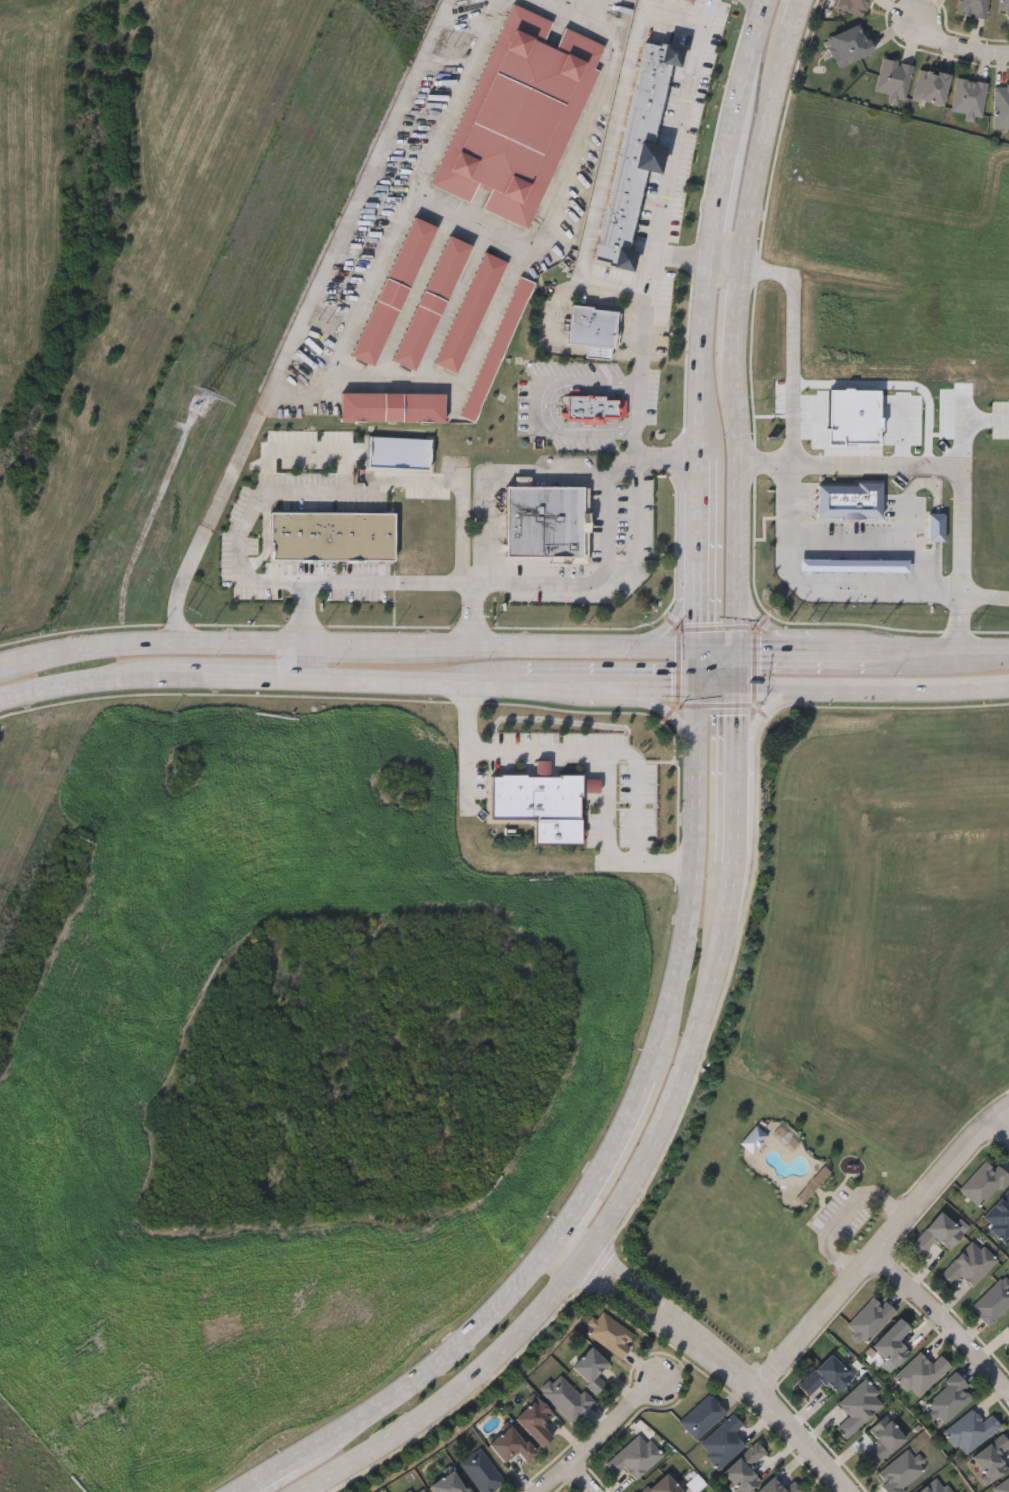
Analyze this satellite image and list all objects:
building: (690, 0)
building: (852, 6)
building: (1004, 6)
building: (972, 7)
road: (575, 11)
road: (673, 16)
power tower: (448, 38)
building: (849, 44)
road: (961, 47)
road: (748, 76)
building: (893, 78)
building: (930, 86)
building: (969, 97)
building: (1001, 106)
building: (519, 113)
road: (679, 125)
building: (635, 150)
road: (604, 173)
road: (567, 187)
road: (718, 206)
road: (395, 219)
road: (724, 266)
road: (739, 283)
road: (650, 284)
building: (390, 290)
building: (430, 301)
road: (558, 303)
building: (467, 311)
power tower: (322, 321)
road: (303, 323)
building: (592, 327)
road: (795, 345)
building: (492, 349)
road: (701, 359)
road: (462, 372)
power tower: (210, 395)
road: (535, 402)
building: (389, 405)
building: (593, 407)
road: (966, 421)
road: (666, 457)
road: (946, 464)
road: (698, 473)
road: (499, 477)
building: (849, 498)
building: (544, 521)
road: (697, 525)
road: (633, 526)
road: (463, 530)
building: (329, 535)
road: (880, 543)
building: (853, 563)
gas station: (853, 563)
road: (388, 578)
road: (828, 580)
road: (987, 599)
road: (697, 606)
power tower: (192, 610)
road: (304, 612)
road: (739, 612)
road: (473, 614)
road: (675, 617)
road: (777, 631)
road: (150, 645)
road: (361, 647)
road: (523, 648)
road: (661, 650)
traffic signals: (697, 650)
road: (717, 650)
traffic signals: (738, 651)
road: (792, 651)
road: (866, 651)
road: (946, 652)
road: (302, 662)
road: (697, 667)
road: (738, 668)
road: (230, 675)
road: (385, 679)
road: (491, 681)
road: (605, 682)
road: (78, 683)
traffic signals: (697, 684)
road: (717, 684)
traffic signals: (738, 685)
road: (768, 685)
road: (903, 687)
road: (621, 703)
road: (696, 725)
road: (758, 725)
road: (740, 733)
road: (597, 754)
road: (468, 771)
road: (639, 788)
building: (533, 795)
road: (741, 821)
building: (557, 829)
power tower: (85, 840)
road: (691, 923)
road: (689, 1068)
road: (1002, 1122)
building: (753, 1138)
road: (610, 1158)
building: (984, 1183)
road: (842, 1211)
building: (937, 1233)
road: (881, 1247)
building: (969, 1263)
building: (992, 1301)
building: (870, 1318)
road: (943, 1320)
building: (1008, 1324)
building: (611, 1334)
building: (892, 1343)
road: (713, 1355)
building: (589, 1368)
road: (449, 1370)
building: (920, 1373)
building: (827, 1375)
road: (469, 1391)
building: (565, 1396)
building: (949, 1398)
building: (858, 1407)
building: (701, 1416)
building: (535, 1421)
building: (970, 1430)
road: (597, 1438)
building: (882, 1440)
building: (721, 1441)
building: (510, 1444)
building: (634, 1456)
building: (744, 1468)
building: (481, 1471)
building: (901, 1471)
road: (583, 1478)
road: (284, 1480)
building: (449, 1483)
building: (661, 1485)
building: (1001, 1485)
building: (779, 1486)
building: (935, 1486)
building: (420, 1490)

